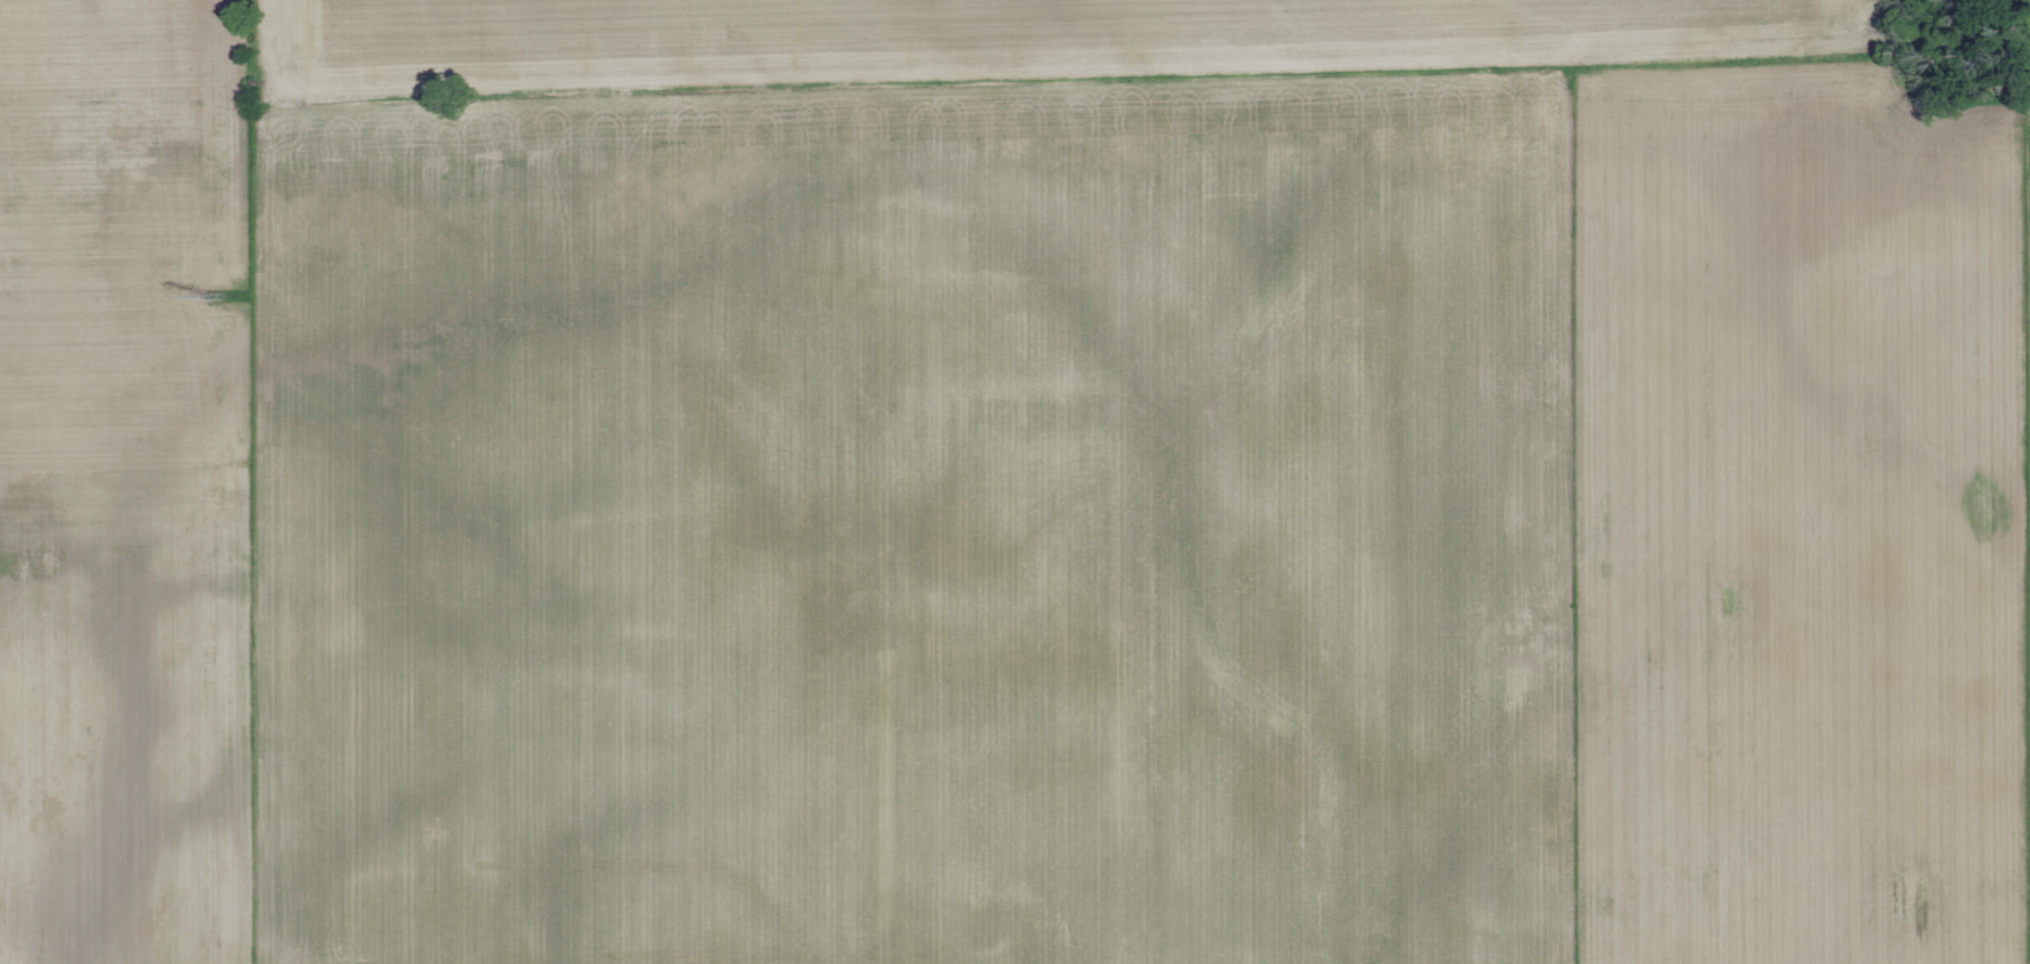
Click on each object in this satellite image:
power tower: (224, 298)

